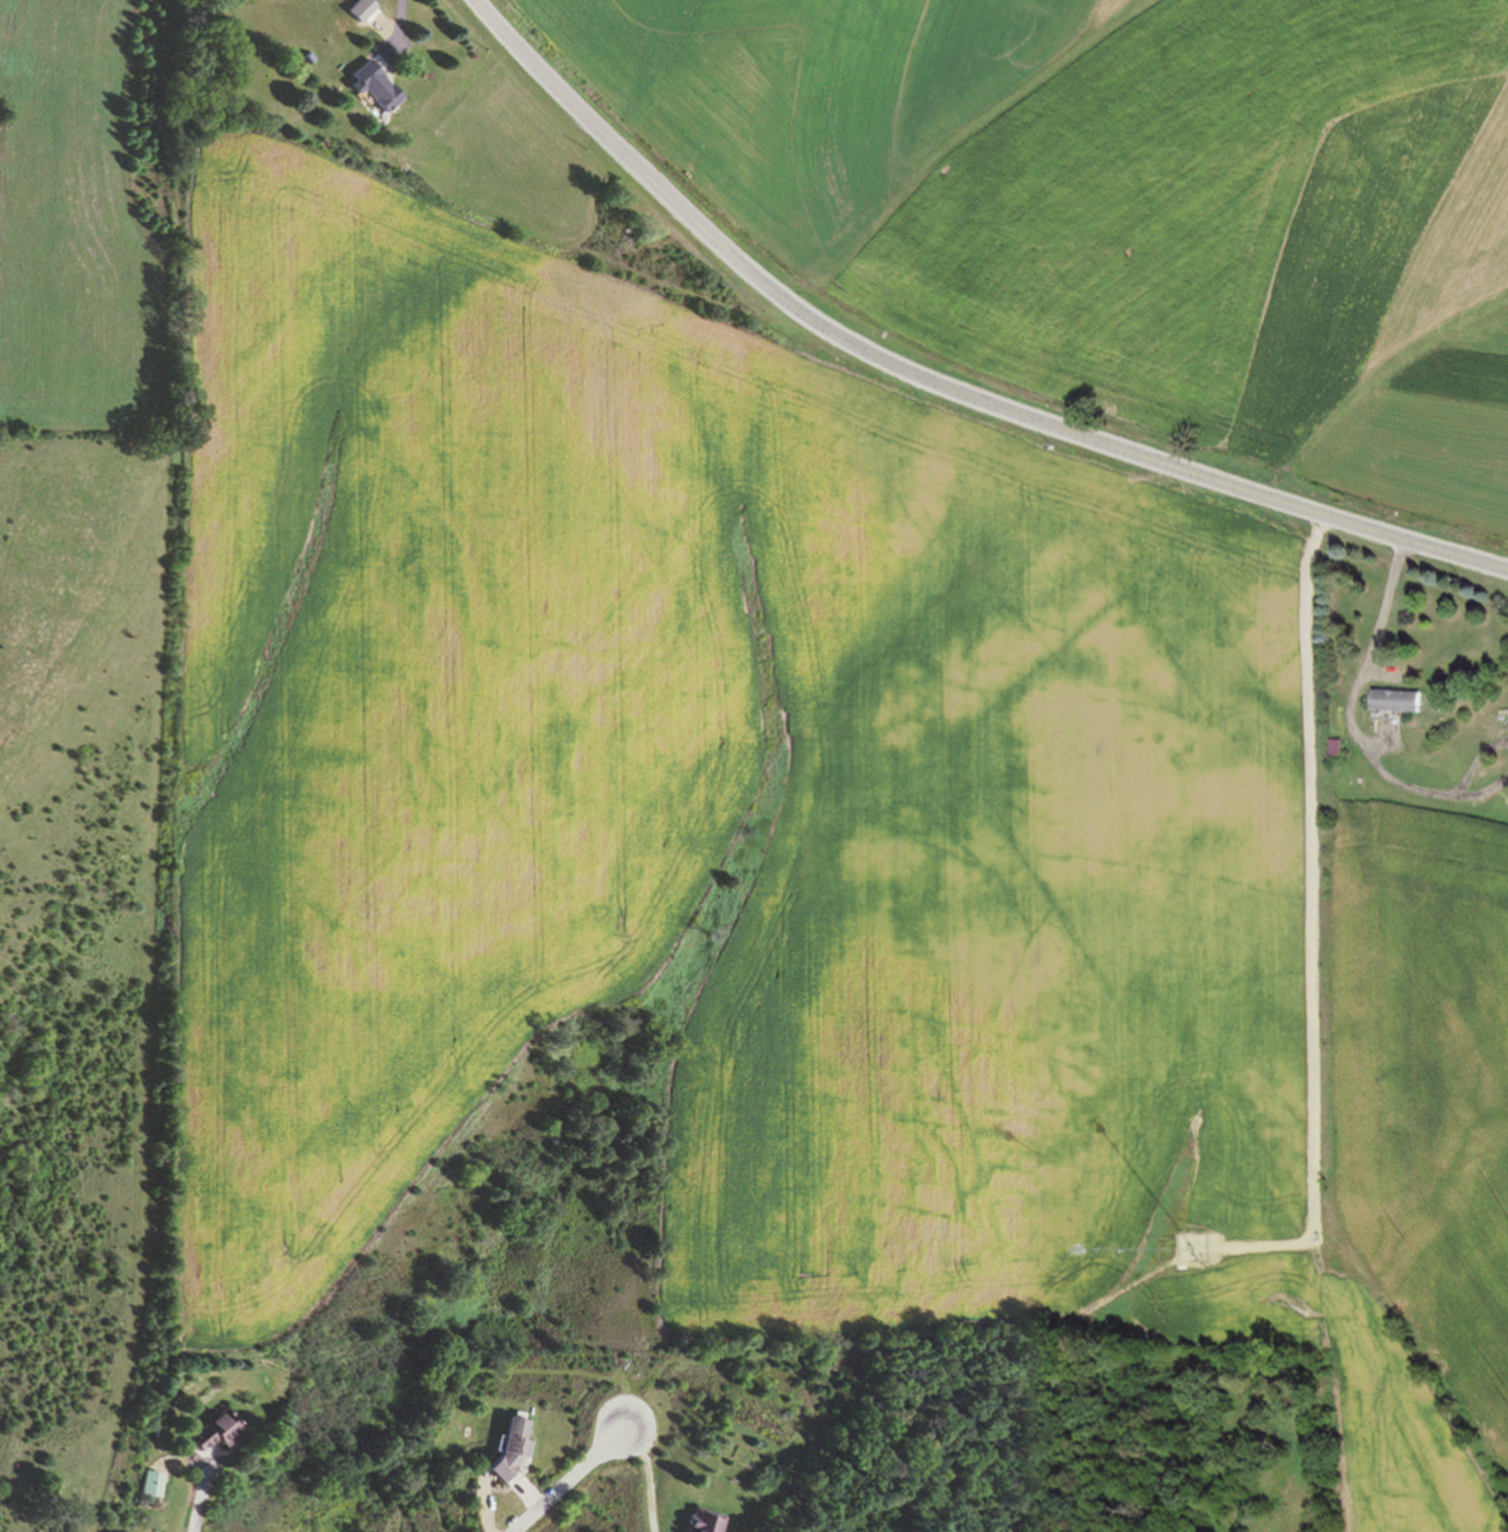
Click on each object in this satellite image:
road: (399, 27)
building: (378, 85)
road: (933, 384)
road: (1354, 692)
building: (1399, 699)
road: (1475, 765)
road: (1479, 795)
building: (219, 1431)
building: (513, 1447)
road: (648, 1476)
road: (569, 1478)
building: (153, 1482)
road: (196, 1497)
building: (705, 1521)

